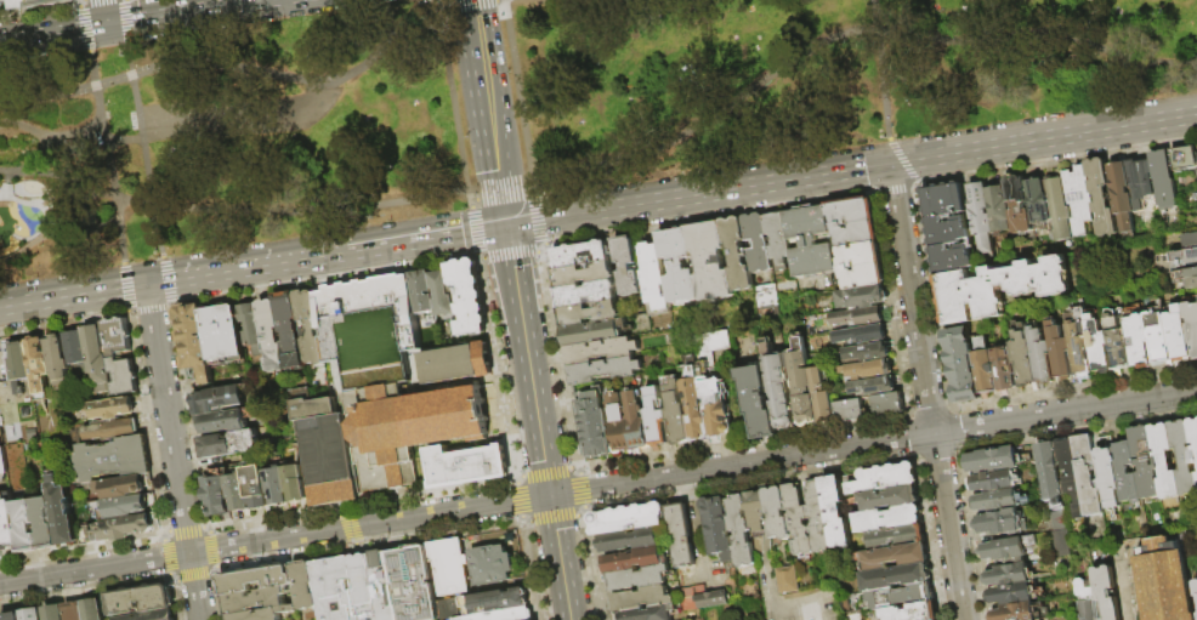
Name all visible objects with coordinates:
road: (81, 0)
road: (126, 0)
road: (472, 1)
road: (486, 1)
building: (5, 2)
building: (50, 2)
road: (81, 2)
building: (23, 5)
road: (460, 5)
road: (102, 12)
road: (40, 13)
road: (130, 19)
road: (127, 23)
traffic signals: (104, 24)
road: (85, 29)
road: (845, 33)
road: (131, 61)
road: (880, 68)
road: (301, 78)
road: (67, 93)
road: (518, 95)
road: (454, 99)
road: (330, 107)
park: (517, 107)
road: (490, 114)
road: (199, 131)
road: (45, 144)
road: (108, 157)
building: (1184, 159)
road: (901, 160)
road: (1056, 161)
traffic signals: (892, 164)
road: (146, 165)
road: (851, 170)
building: (1162, 180)
building: (1138, 181)
road: (532, 189)
road: (894, 192)
building: (1121, 194)
road: (500, 195)
road: (875, 195)
building: (1100, 197)
building: (1077, 198)
road: (472, 199)
building: (1037, 200)
road: (470, 204)
building: (1017, 204)
building: (1056, 207)
road: (294, 210)
building: (997, 210)
road: (538, 220)
building: (852, 221)
building: (980, 221)
traffic signals: (506, 226)
building: (943, 228)
road: (472, 231)
road: (56, 233)
building: (777, 238)
building: (1189, 238)
building: (809, 241)
building: (755, 243)
road: (541, 249)
road: (336, 252)
building: (736, 254)
road: (509, 255)
building: (579, 255)
road: (480, 258)
building: (708, 261)
building: (625, 265)
building: (676, 265)
building: (860, 266)
road: (164, 267)
building: (582, 274)
building: (653, 275)
building: (1189, 277)
road: (324, 280)
road: (157, 281)
traffic signals: (147, 284)
building: (994, 284)
road: (125, 285)
road: (169, 291)
building: (442, 292)
building: (585, 294)
road: (73, 296)
building: (469, 296)
building: (764, 296)
road: (929, 296)
road: (148, 297)
building: (860, 297)
road: (169, 307)
road: (891, 308)
road: (149, 311)
building: (588, 313)
building: (857, 317)
road: (66, 322)
building: (308, 326)
building: (1191, 326)
building: (249, 328)
building: (288, 328)
building: (376, 330)
building: (591, 332)
building: (222, 334)
building: (1178, 334)
building: (270, 335)
building: (861, 335)
building: (118, 336)
building: (1158, 339)
building: (194, 340)
building: (1138, 341)
building: (1079, 342)
building: (1116, 342)
building: (1097, 346)
building: (75, 347)
building: (601, 351)
building: (867, 352)
building: (1060, 352)
building: (1040, 355)
building: (96, 357)
road: (527, 360)
building: (1023, 360)
building: (19, 362)
building: (58, 362)
road: (558, 362)
building: (456, 363)
building: (959, 364)
building: (39, 365)
road: (495, 368)
building: (1004, 368)
building: (868, 369)
building: (603, 370)
building: (985, 370)
building: (123, 375)
building: (801, 385)
building: (776, 386)
building: (872, 387)
road: (1071, 388)
road: (927, 392)
building: (821, 397)
building: (216, 399)
building: (755, 400)
building: (714, 402)
building: (887, 404)
building: (694, 405)
building: (115, 408)
building: (849, 410)
road: (926, 410)
road: (188, 417)
building: (676, 419)
building: (225, 420)
building: (656, 420)
building: (626, 422)
road: (146, 423)
building: (594, 425)
road: (952, 427)
building: (407, 428)
building: (112, 430)
road: (1073, 432)
road: (907, 437)
building: (1193, 439)
building: (227, 443)
road: (873, 443)
building: (324, 450)
road: (934, 455)
building: (1182, 457)
building: (115, 459)
building: (991, 460)
building: (1163, 460)
building: (1144, 461)
building: (1, 462)
road: (175, 465)
building: (464, 465)
road: (545, 471)
building: (1048, 471)
building: (1124, 471)
building: (1067, 472)
building: (1106, 472)
building: (1087, 474)
building: (885, 476)
road: (776, 478)
building: (993, 479)
building: (294, 483)
building: (276, 485)
building: (125, 487)
building: (256, 487)
road: (579, 490)
building: (238, 494)
building: (216, 495)
traffic signals: (550, 496)
building: (889, 496)
building: (997, 499)
road: (516, 500)
road: (361, 501)
building: (123, 506)
road: (341, 506)
road: (583, 508)
building: (756, 508)
building: (835, 508)
building: (777, 511)
building: (63, 513)
road: (579, 513)
building: (817, 516)
building: (889, 516)
building: (626, 517)
road: (551, 518)
building: (796, 519)
building: (997, 521)
building: (45, 524)
building: (8, 525)
road: (347, 525)
building: (719, 525)
building: (27, 528)
building: (124, 528)
road: (183, 529)
building: (741, 529)
road: (969, 533)
road: (441, 534)
building: (680, 534)
building: (896, 535)
building: (628, 539)
road: (274, 540)
road: (84, 547)
building: (1005, 547)
road: (210, 548)
road: (164, 556)
building: (892, 556)
road: (285, 557)
road: (560, 557)
building: (632, 558)
building: (492, 564)
building: (449, 565)
road: (528, 568)
road: (212, 571)
building: (1006, 574)
building: (896, 575)
road: (192, 576)
building: (636, 576)
building: (255, 580)
building: (787, 580)
building: (1163, 580)
building: (414, 584)
building: (305, 585)
building: (385, 585)
road: (1124, 585)
building: (1195, 586)
building: (364, 587)
building: (335, 588)
road: (86, 591)
building: (1105, 592)
building: (1009, 593)
road: (172, 595)
building: (900, 595)
road: (216, 597)
building: (639, 597)
building: (700, 597)
building: (142, 599)
building: (253, 601)
building: (490, 601)
building: (1085, 601)
building: (93, 609)
building: (912, 610)
building: (75, 612)
building: (1014, 612)
building: (56, 613)
building: (645, 613)
building: (32, 614)
building: (260, 614)
building: (152, 615)
building: (497, 615)
building: (12, 616)
building: (531, 619)
building: (935, 619)

